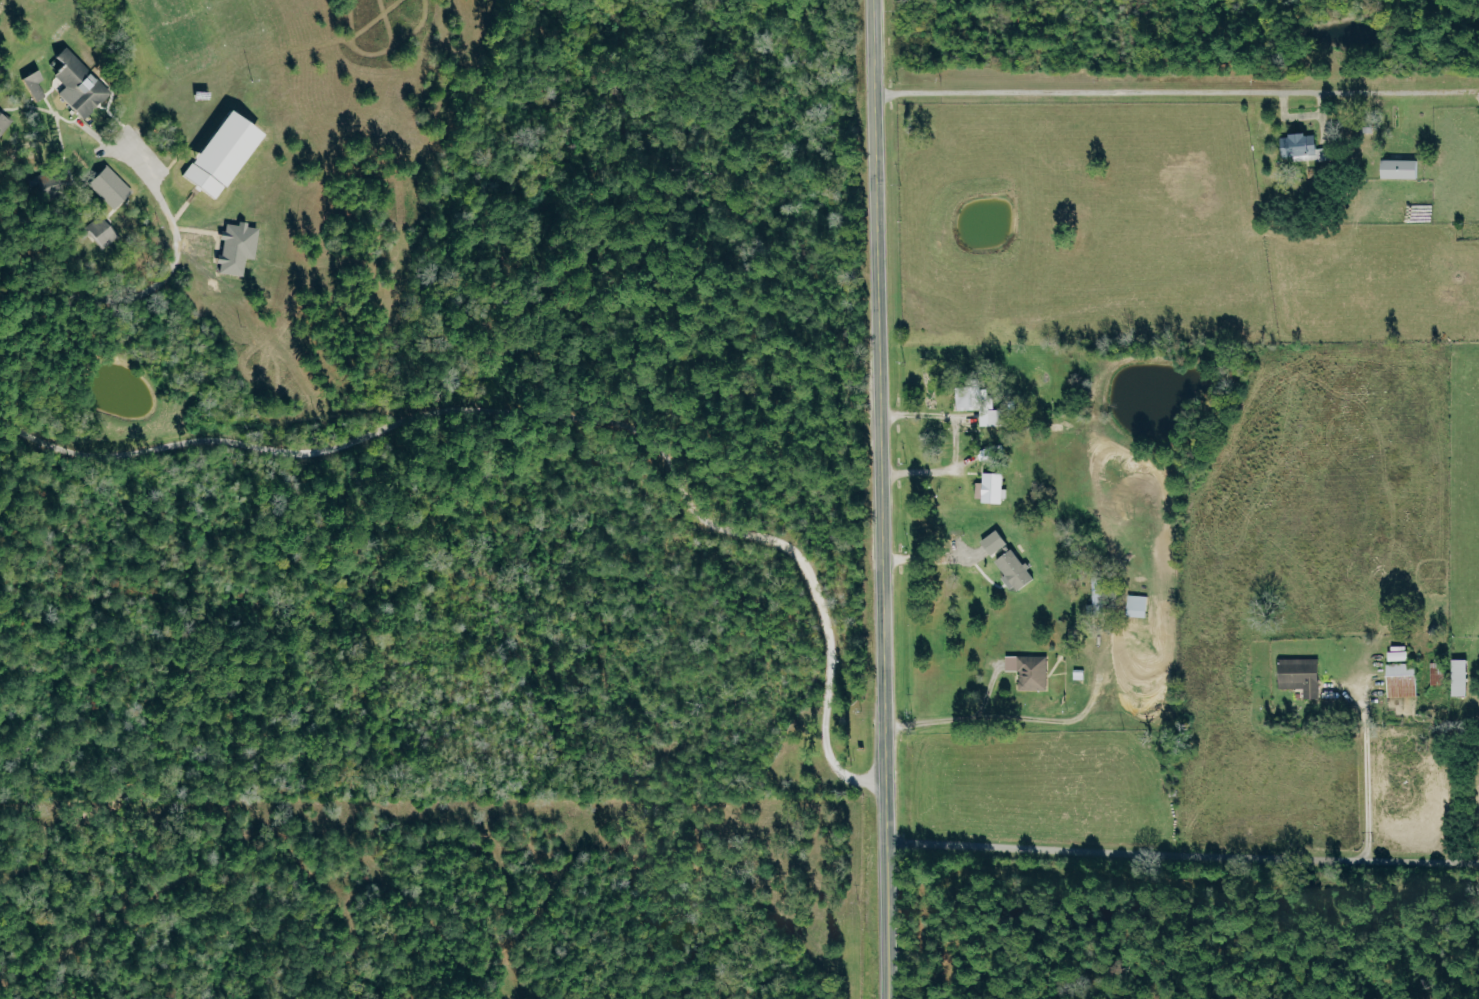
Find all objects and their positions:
building: (81, 84)
road: (1079, 88)
building: (1306, 146)
building: (226, 153)
building: (1403, 168)
building: (45, 184)
building: (112, 187)
building: (103, 231)
building: (239, 247)
road: (162, 279)
building: (982, 404)
road: (557, 412)
road: (940, 416)
road: (926, 473)
building: (993, 488)
road: (879, 499)
road: (925, 559)
building: (1010, 560)
building: (1099, 594)
building: (1139, 605)
building: (1032, 671)
building: (1439, 673)
building: (1404, 675)
building: (1303, 677)
building: (1463, 677)
road: (956, 720)
road: (1364, 774)
road: (1182, 854)

